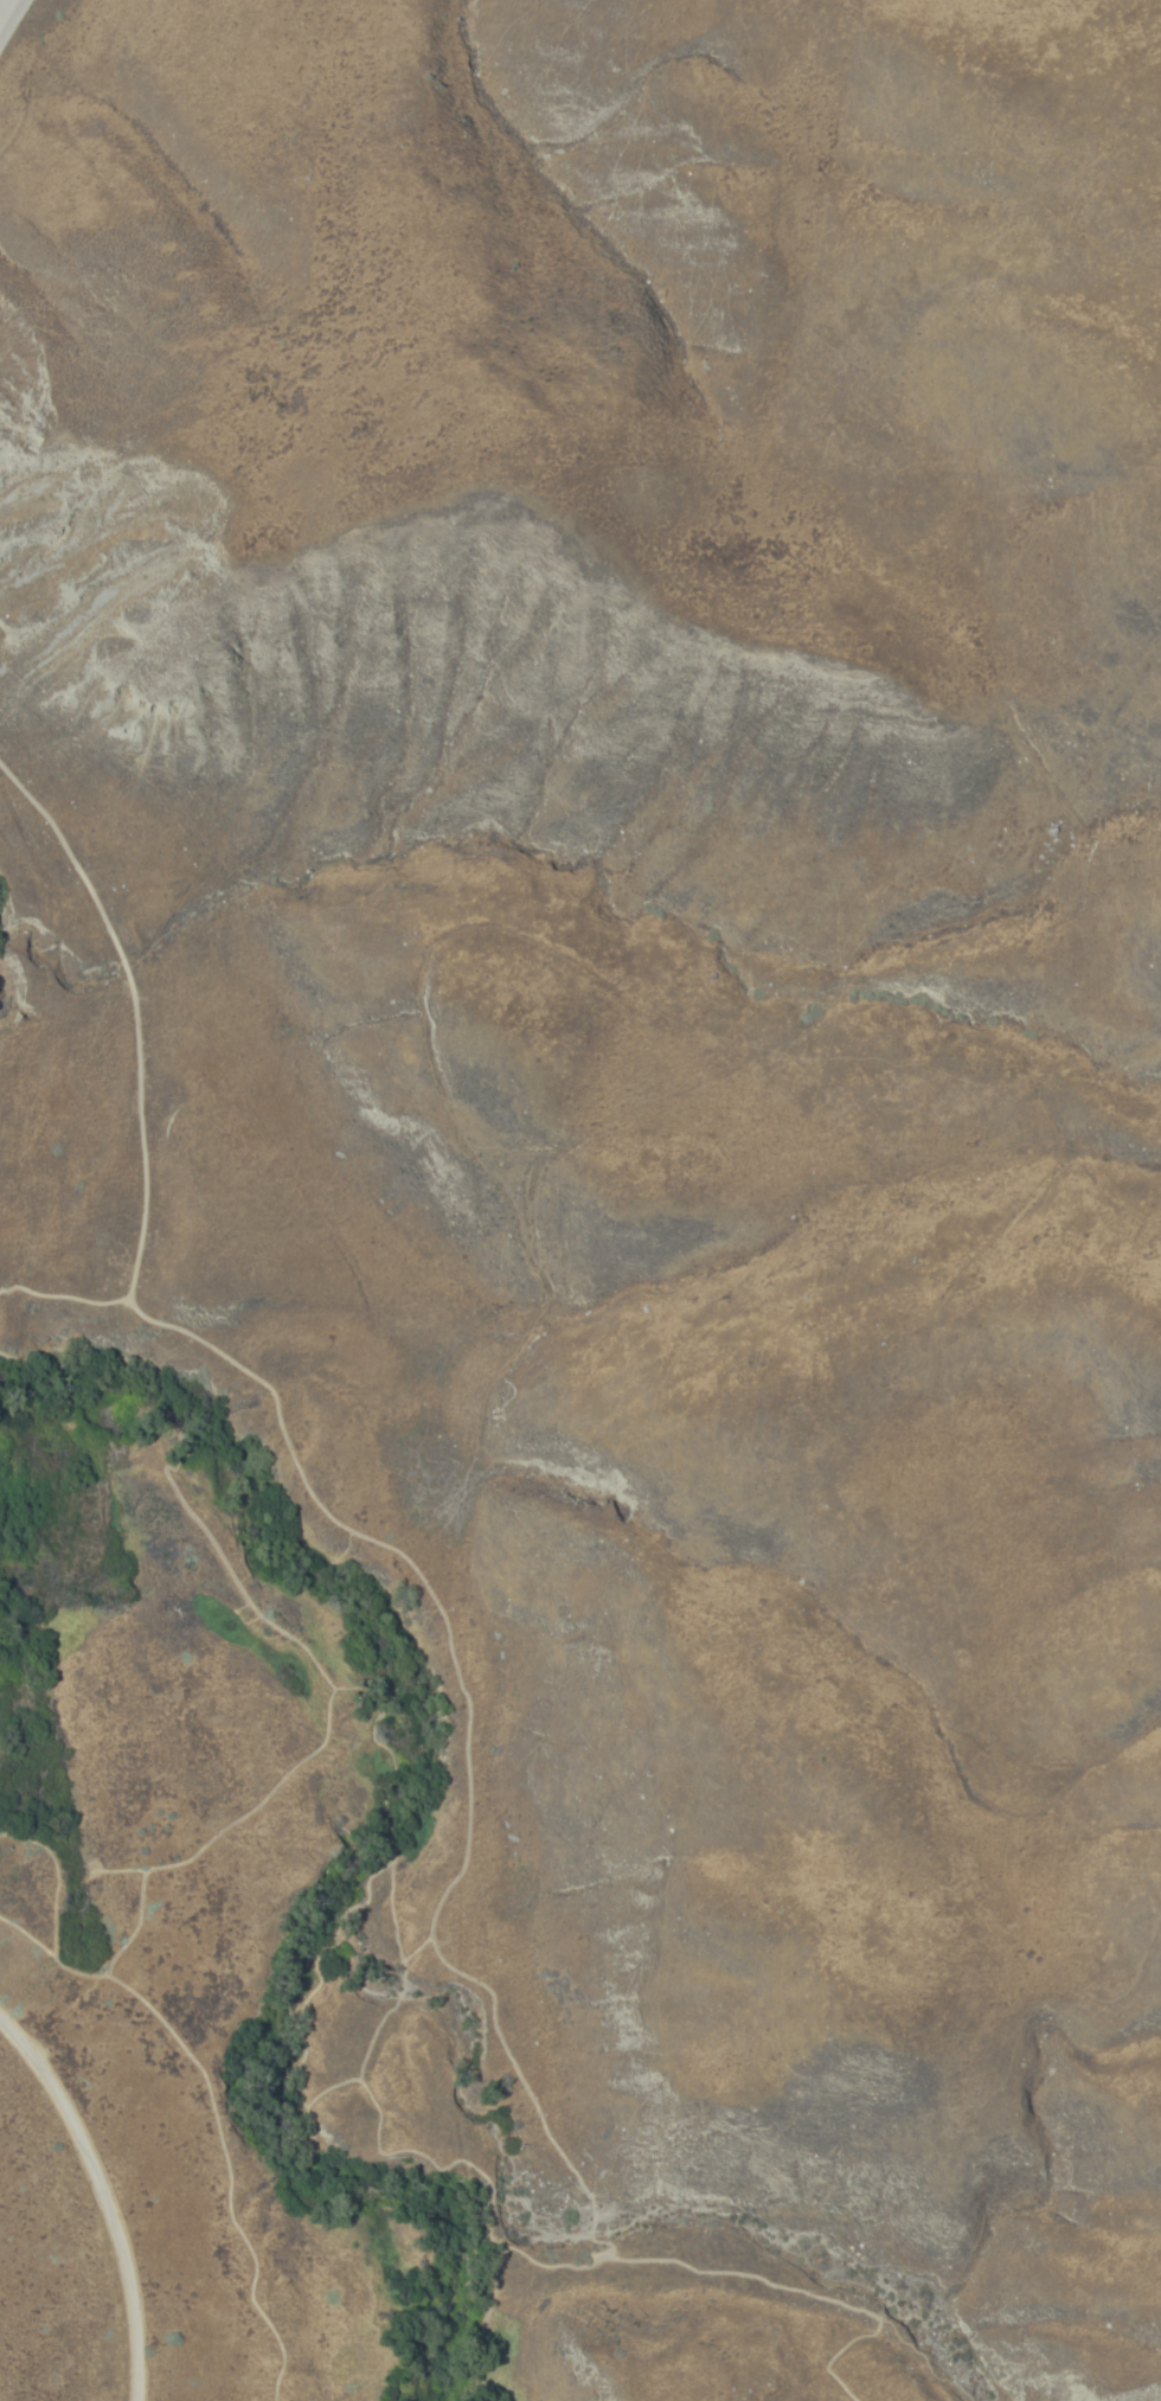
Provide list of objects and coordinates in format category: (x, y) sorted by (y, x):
parking lot: (6, 9)
road: (13, 24)
road: (66, 1300)
road: (328, 1510)
road: (249, 1600)
road: (387, 1819)
road: (56, 1878)
road: (146, 1883)
road: (333, 2092)
road: (216, 2118)
road: (98, 2207)
road: (622, 2258)
road: (507, 2259)
road: (816, 2297)

